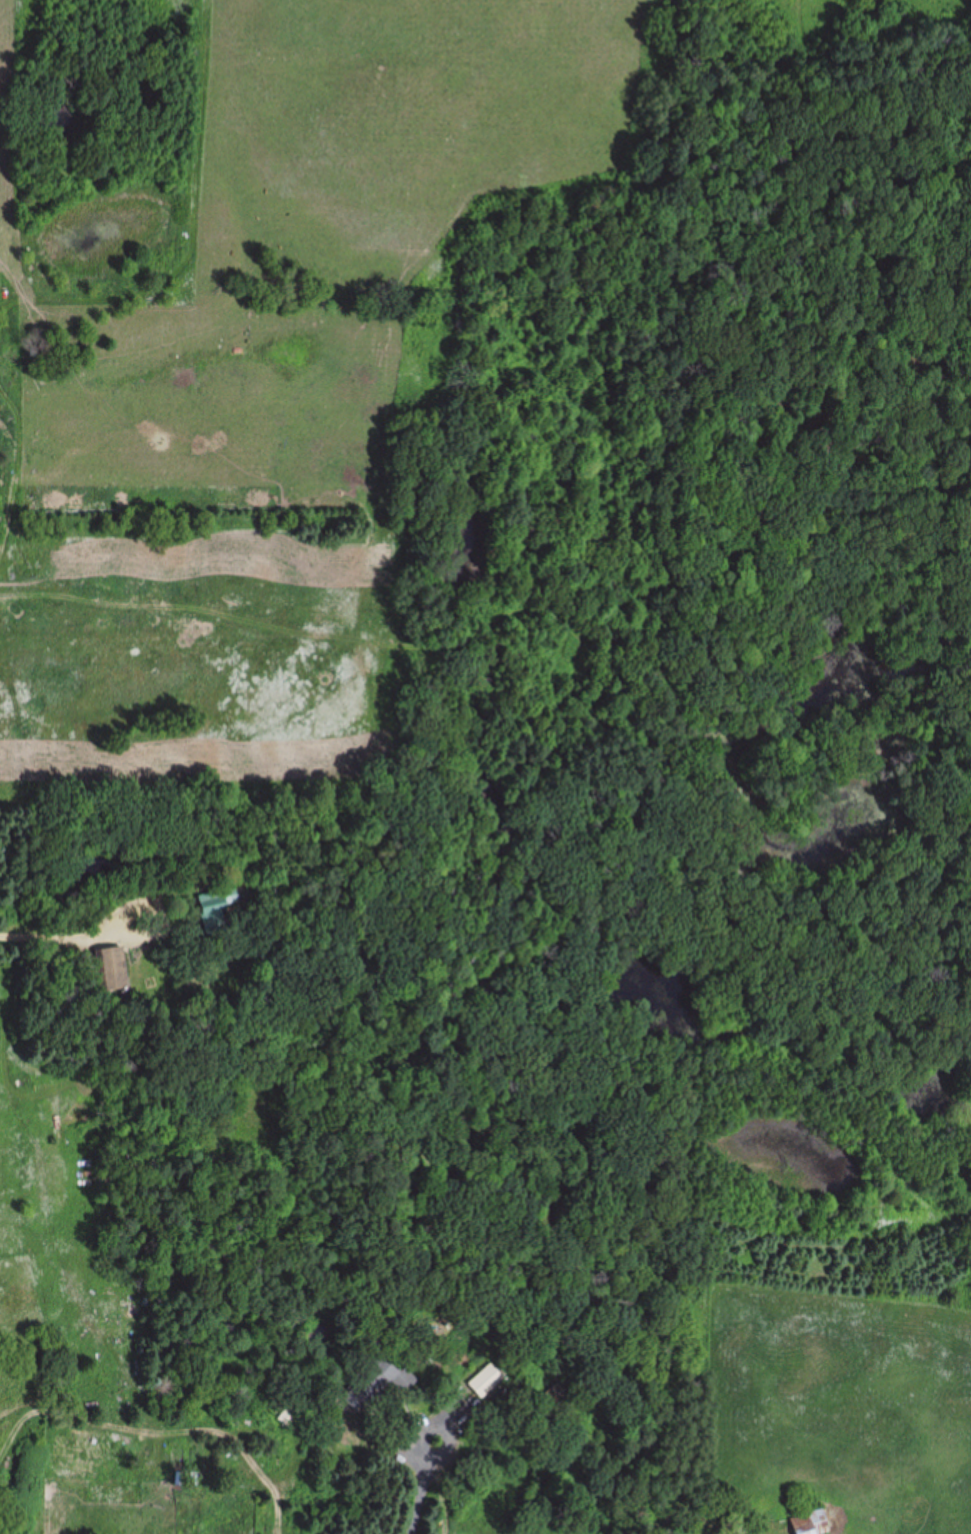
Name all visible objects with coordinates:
building: (212, 909)
building: (108, 970)
building: (481, 1382)
building: (374, 1386)
building: (286, 1417)
building: (188, 1479)
building: (808, 1524)

